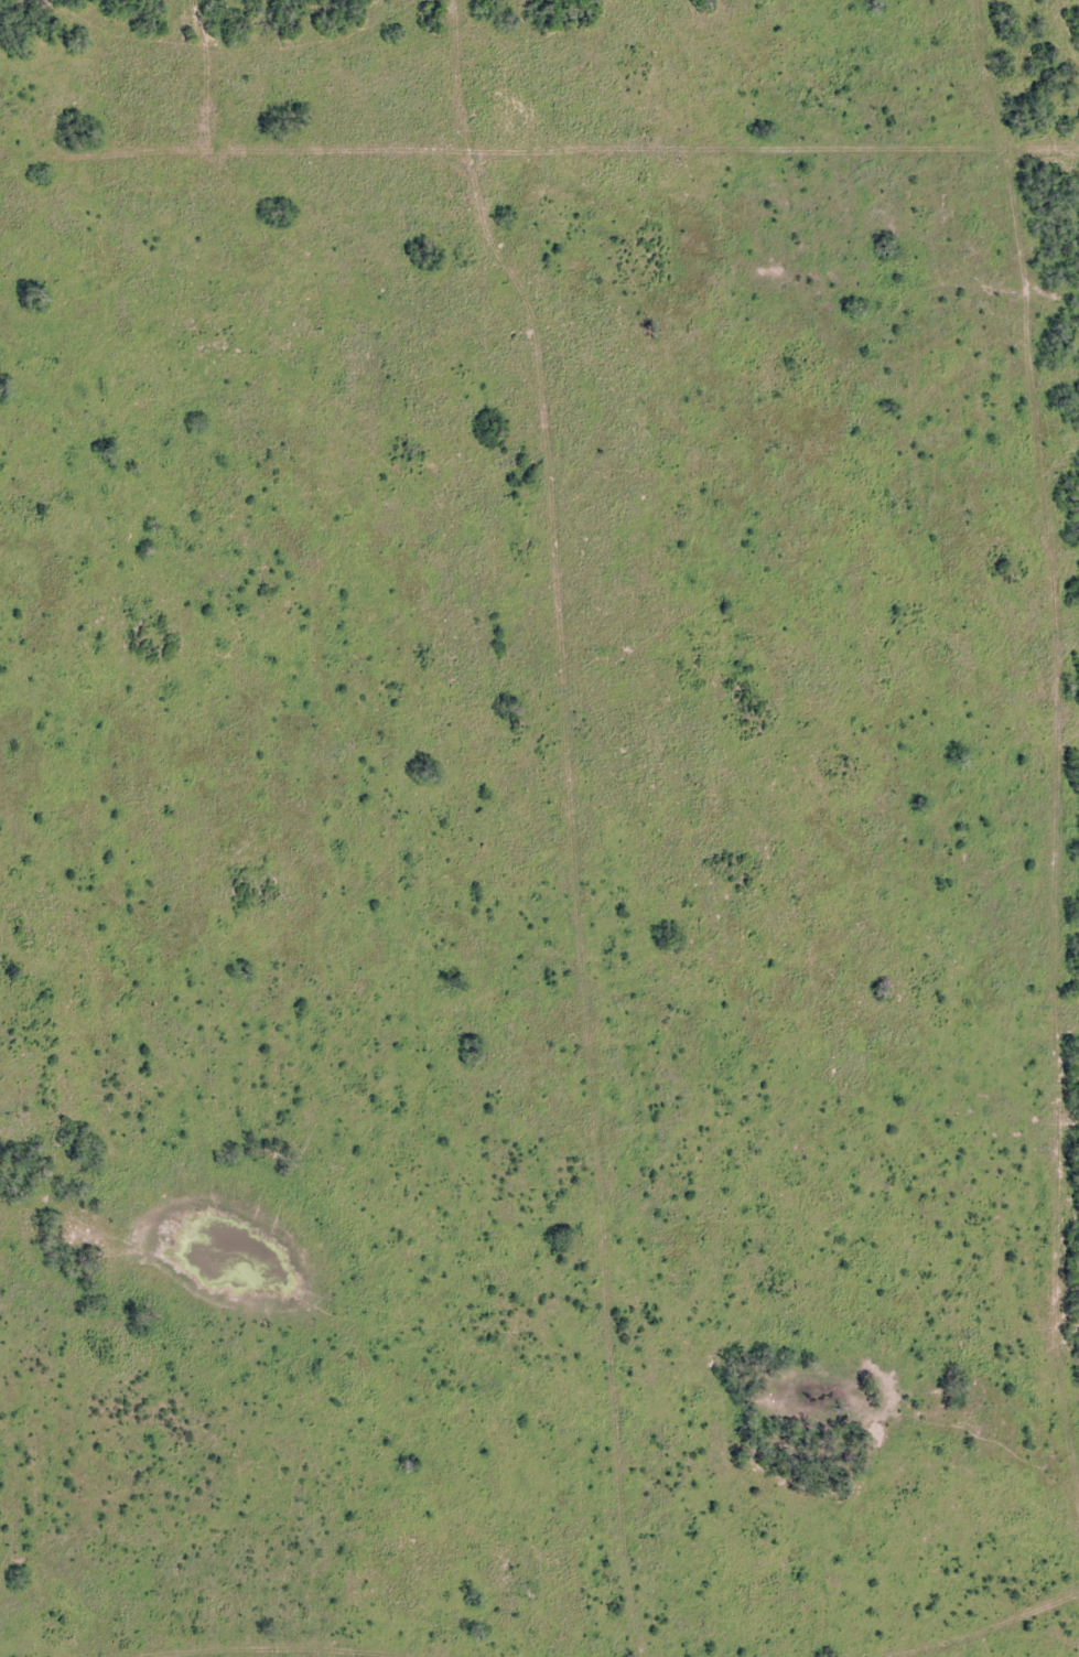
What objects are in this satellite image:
road: (911, 1586)
road: (213, 1601)

